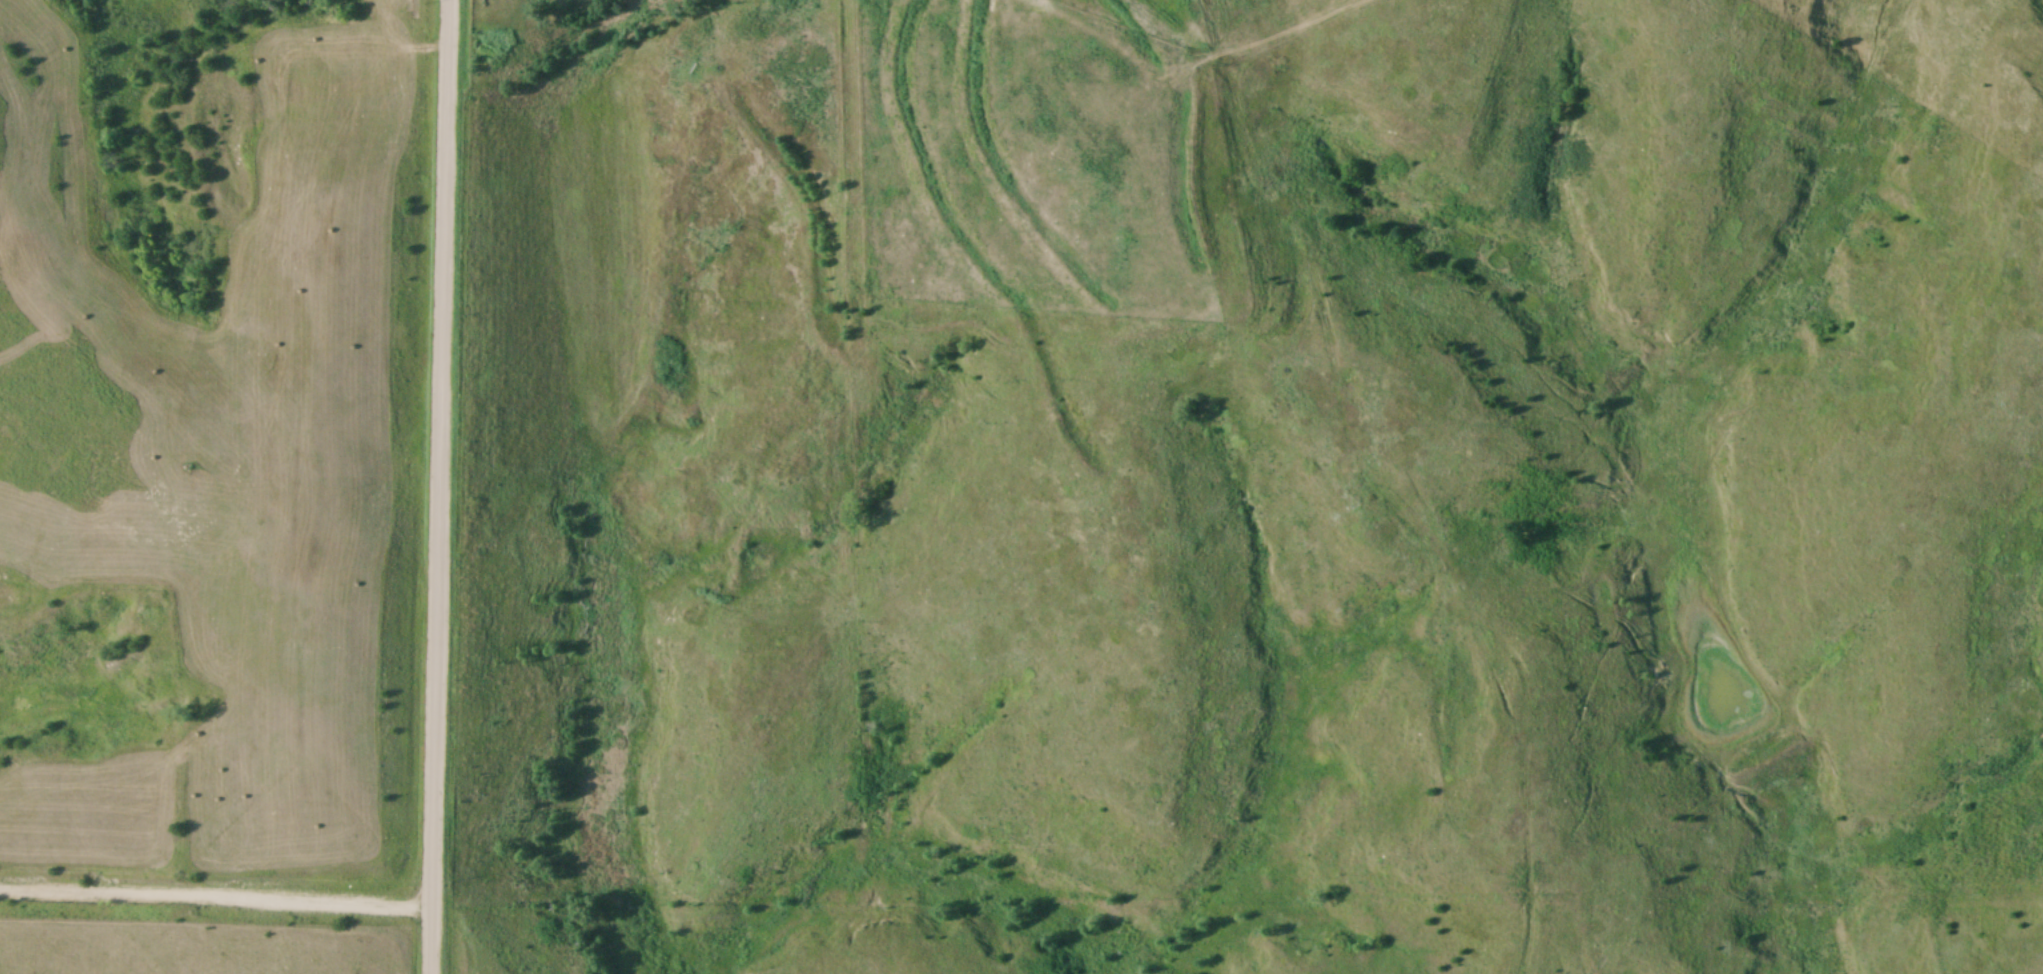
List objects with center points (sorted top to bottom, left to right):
road: (441, 486)
road: (217, 898)

